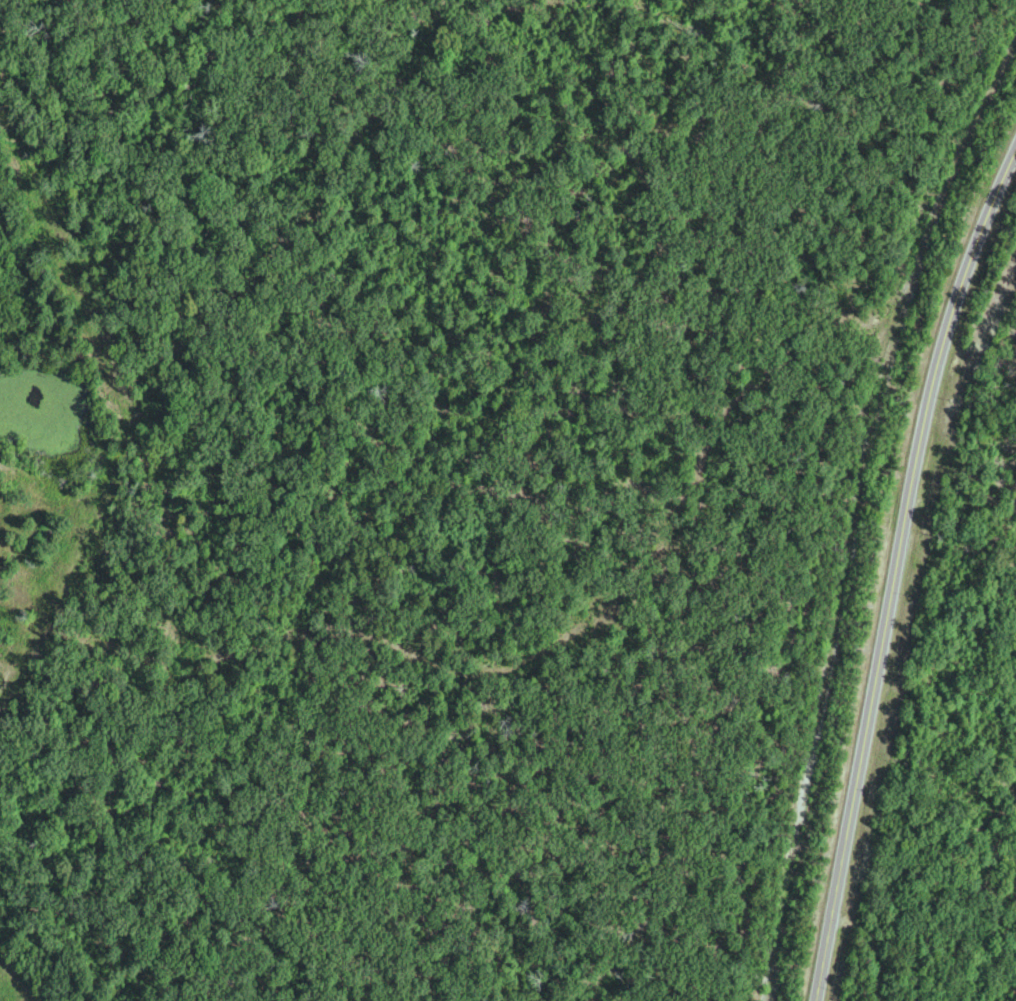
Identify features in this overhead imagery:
road: (860, 515)
road: (895, 571)
road: (884, 938)

